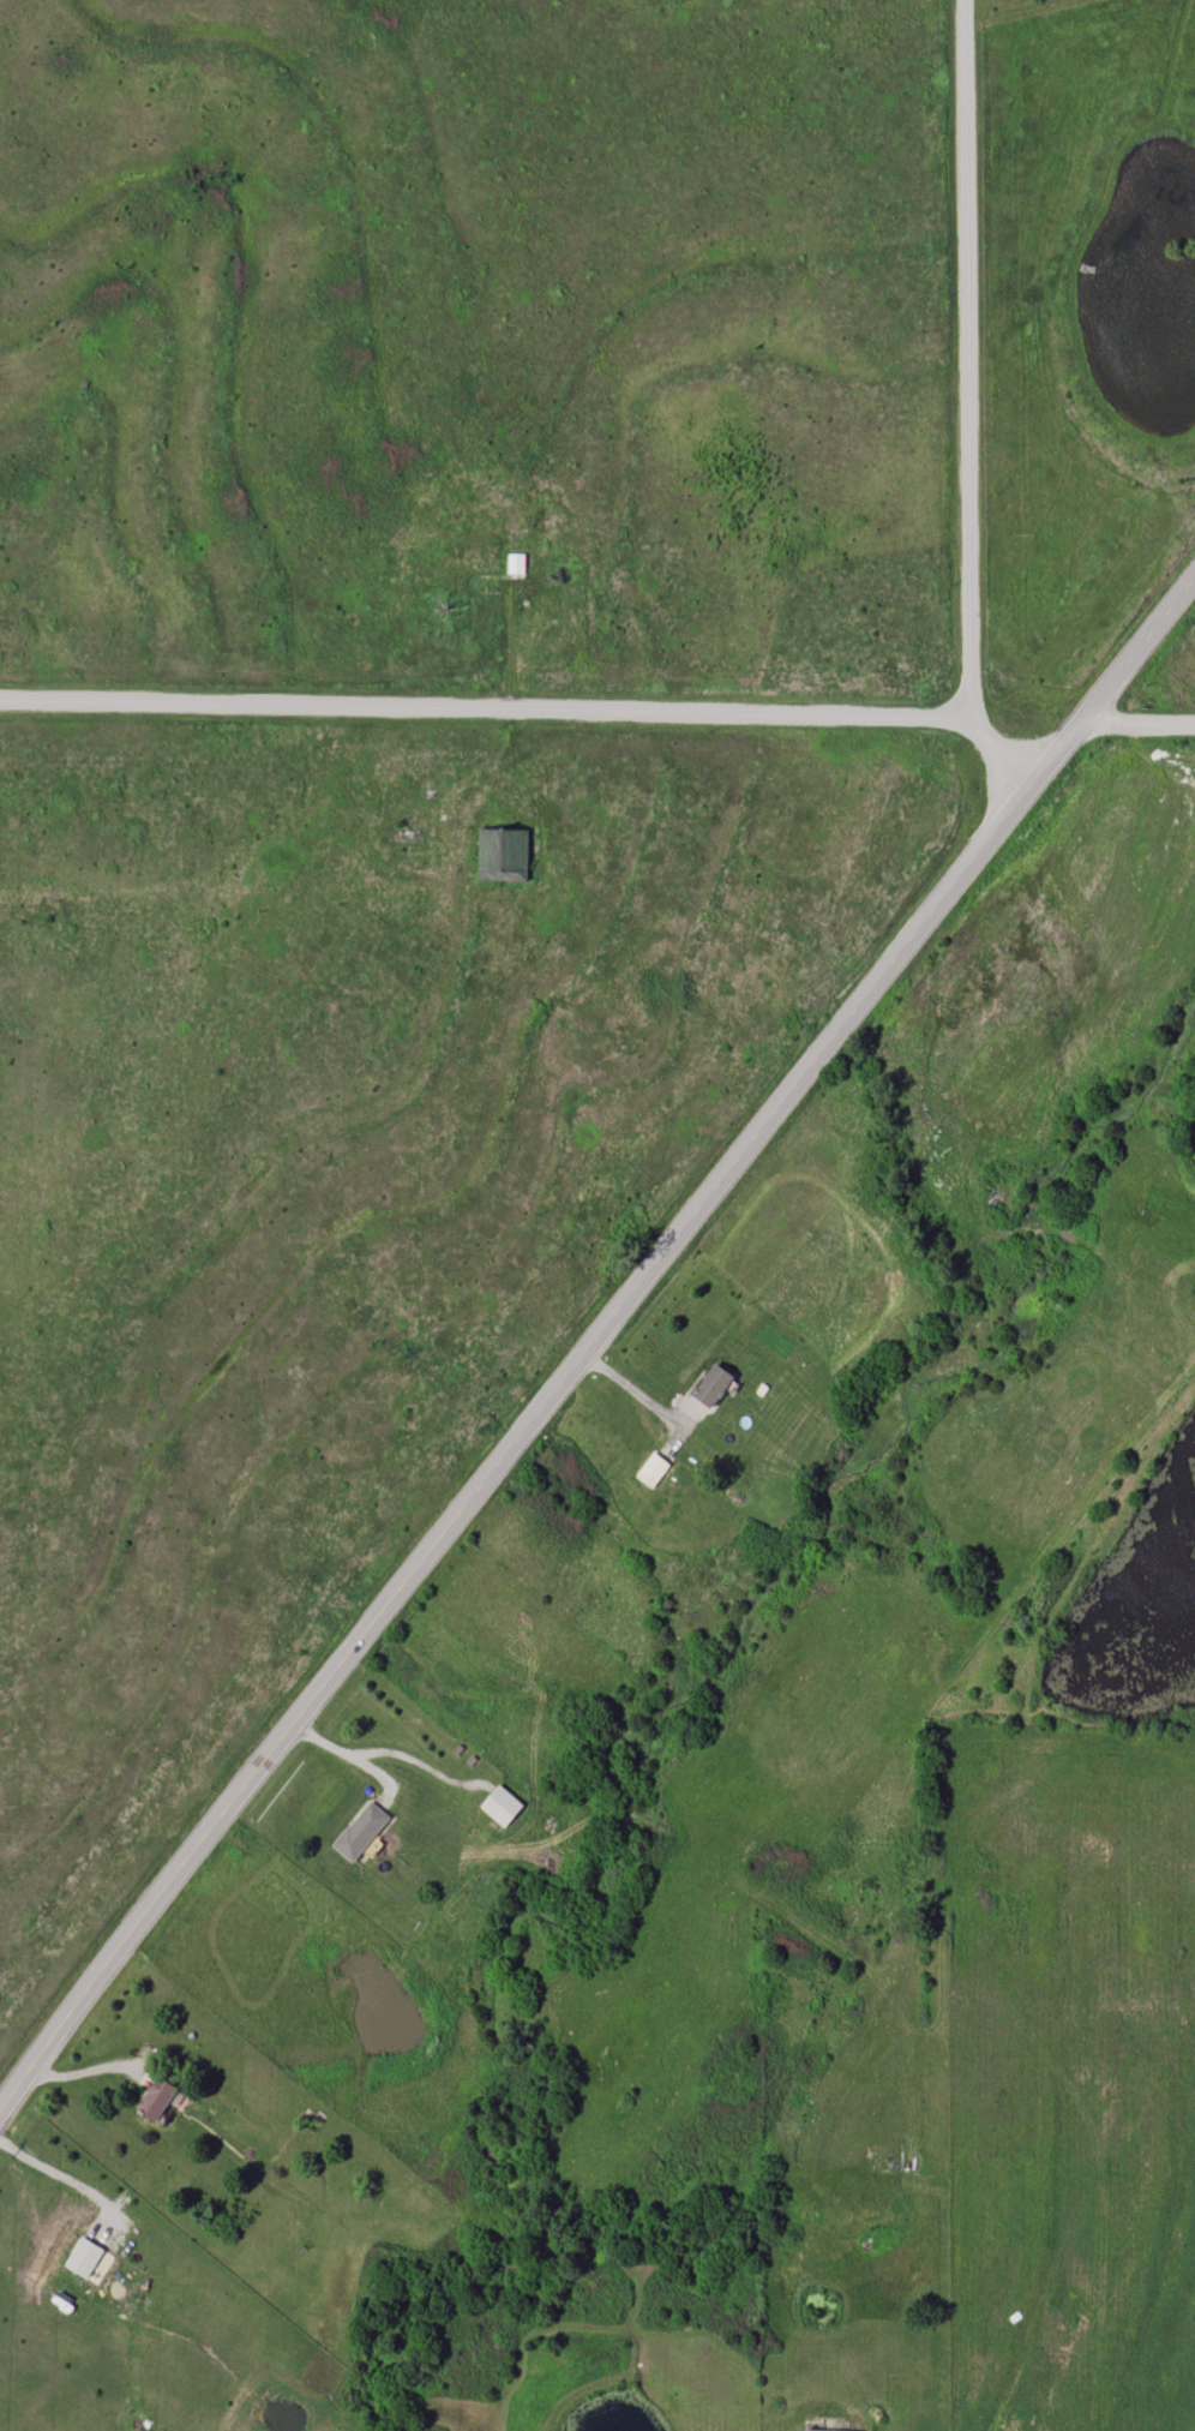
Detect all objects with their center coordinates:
road: (967, 358)
building: (516, 564)
road: (530, 706)
road: (511, 713)
road: (1137, 723)
road: (592, 1341)
building: (714, 1387)
road: (642, 1395)
road: (352, 1759)
building: (502, 1806)
building: (360, 1832)
building: (157, 2098)
road: (54, 2173)

